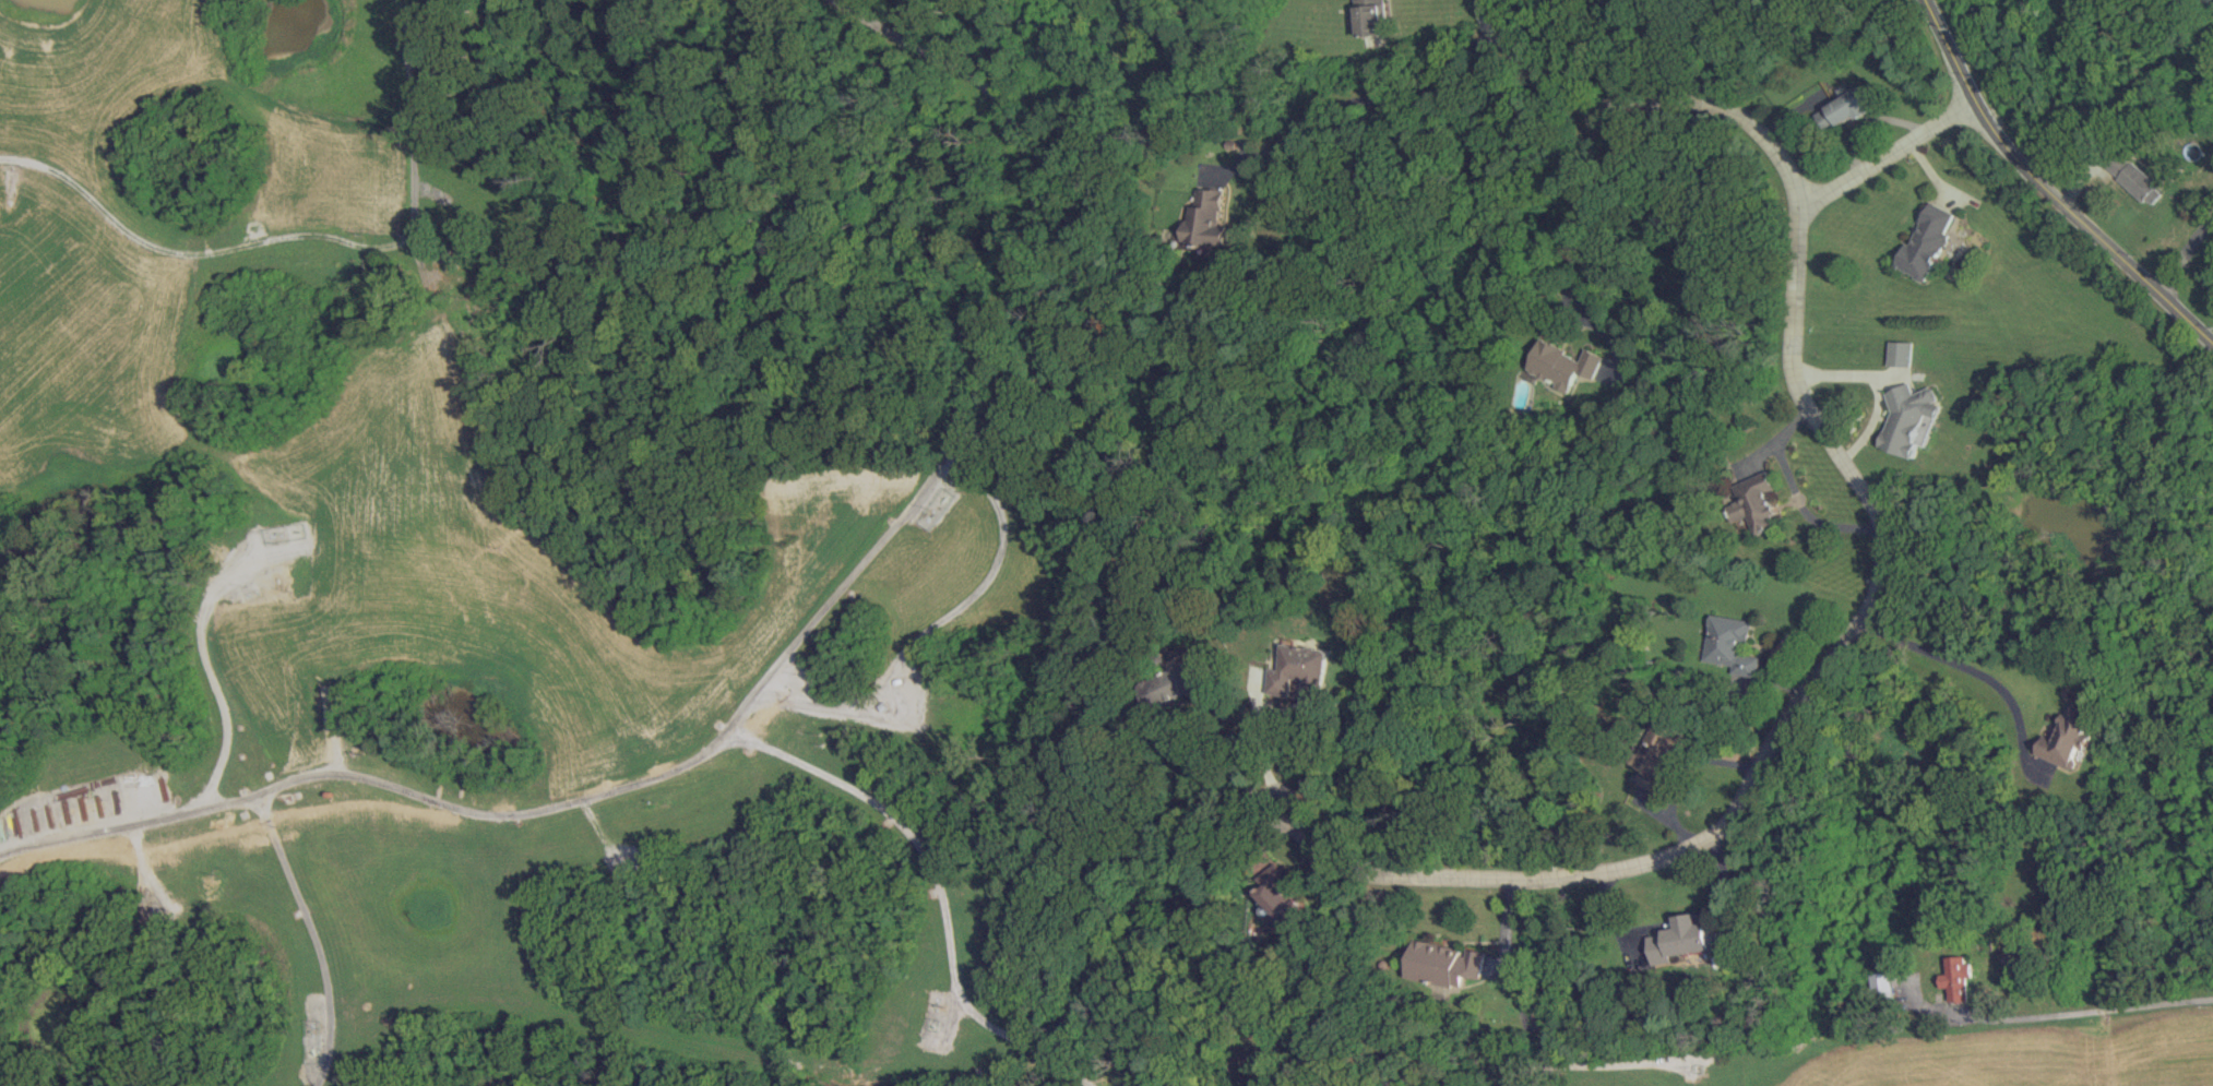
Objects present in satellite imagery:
building: (1370, 17)
road: (1355, 100)
road: (1644, 105)
building: (1845, 107)
road: (1887, 152)
road: (2021, 163)
building: (2137, 178)
road: (440, 194)
building: (1206, 218)
petroleum well: (254, 227)
road: (1574, 237)
road: (316, 239)
building: (1926, 240)
road: (2187, 254)
road: (2187, 317)
road: (997, 322)
building: (1901, 353)
building: (1563, 363)
building: (1912, 418)
road: (1821, 423)
road: (1795, 491)
building: (1757, 500)
petroleum well: (298, 530)
road: (936, 623)
building: (1733, 646)
road: (204, 656)
road: (1953, 660)
building: (1300, 668)
building: (1177, 682)
road: (335, 732)
road: (1258, 735)
building: (2069, 738)
road: (1235, 753)
building: (1655, 755)
road: (1269, 791)
road: (533, 814)
road: (901, 821)
road: (129, 826)
road: (600, 832)
road: (1622, 868)
road: (147, 869)
building: (1281, 892)
road: (317, 935)
building: (1688, 939)
building: (1444, 963)
building: (1956, 977)
building: (1883, 983)
road: (2095, 1001)
road: (1025, 1042)
crop: (2032, 1058)
road: (1598, 1063)
road: (876, 1064)

